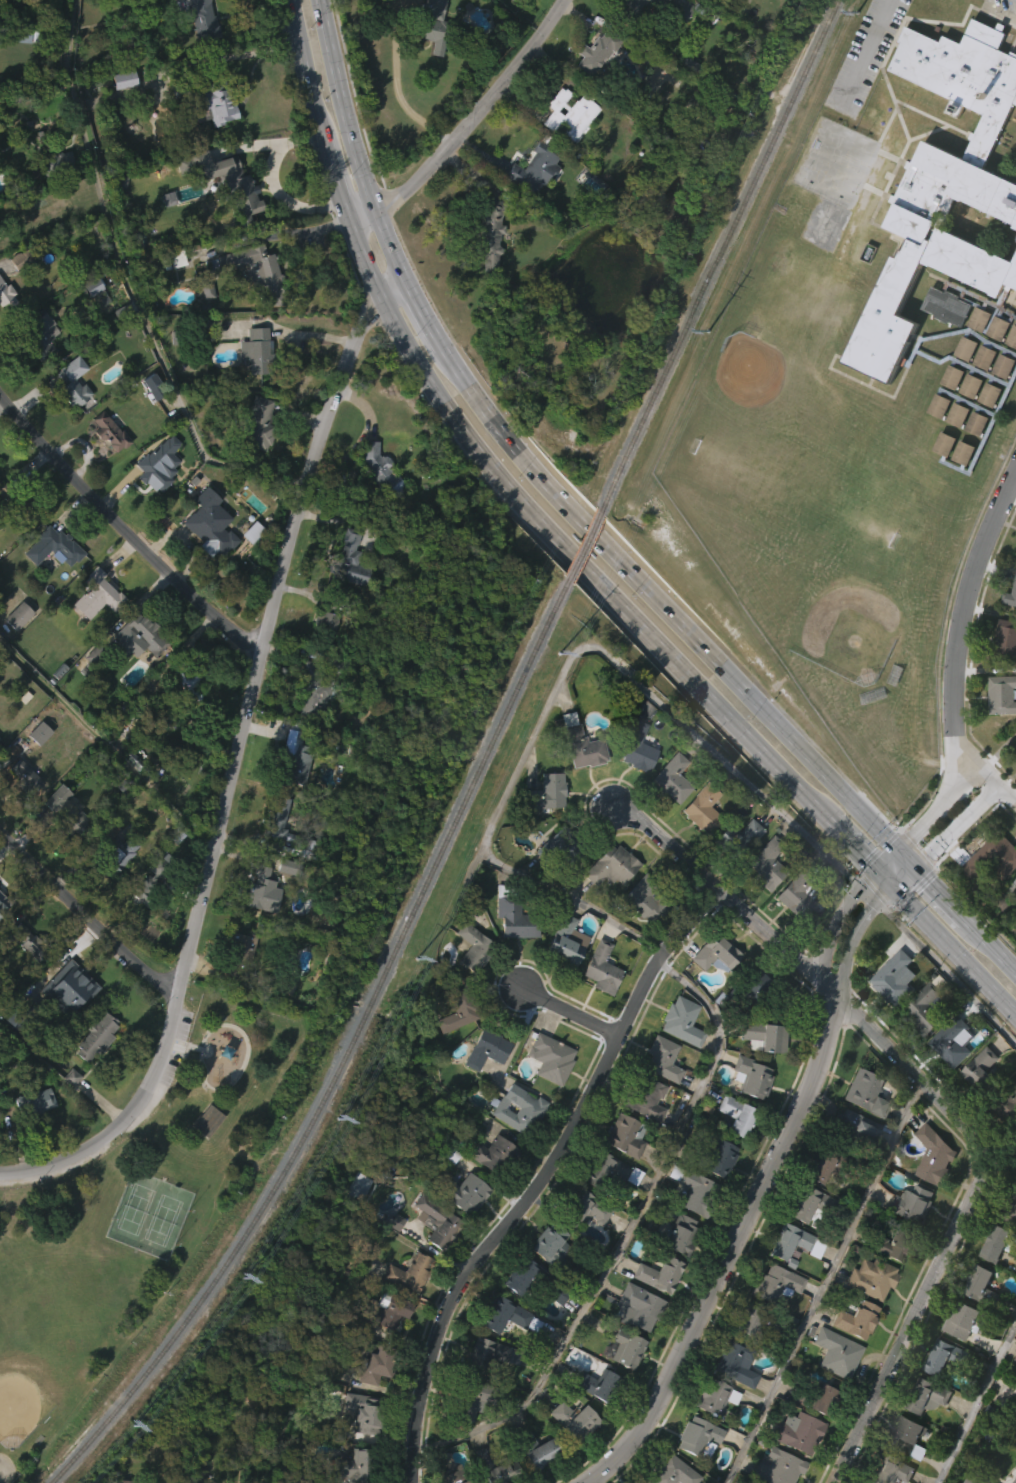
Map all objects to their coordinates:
building: (142, 0)
building: (523, 1)
building: (490, 5)
building: (658, 8)
power tower: (861, 11)
building: (204, 19)
building: (152, 20)
building: (433, 27)
building: (650, 32)
building: (197, 40)
road: (249, 51)
building: (595, 51)
building: (428, 52)
road: (866, 53)
road: (308, 65)
building: (22, 68)
road: (396, 82)
building: (591, 86)
building: (211, 103)
building: (120, 111)
building: (567, 114)
road: (463, 126)
building: (213, 134)
road: (356, 136)
building: (566, 146)
building: (60, 163)
road: (329, 166)
building: (532, 169)
road: (272, 180)
building: (236, 182)
building: (54, 194)
building: (179, 195)
building: (531, 201)
building: (226, 216)
building: (1, 227)
building: (949, 233)
building: (486, 235)
building: (1015, 237)
railway: (719, 255)
building: (173, 258)
building: (255, 270)
building: (485, 270)
road: (125, 285)
building: (17, 290)
building: (172, 290)
building: (7, 292)
building: (251, 302)
road: (422, 307)
building: (89, 318)
building: (204, 319)
building: (4, 327)
building: (41, 334)
power tower: (712, 334)
building: (942, 339)
building: (255, 350)
building: (36, 366)
building: (252, 382)
building: (152, 383)
building: (73, 386)
building: (69, 413)
building: (148, 419)
building: (256, 424)
building: (108, 433)
building: (935, 438)
building: (256, 453)
building: (105, 463)
building: (380, 470)
building: (150, 471)
building: (940, 476)
building: (959, 485)
building: (155, 496)
building: (17, 498)
building: (376, 505)
building: (210, 524)
road: (123, 530)
road: (547, 530)
railway: (583, 544)
building: (53, 546)
building: (206, 556)
building: (350, 560)
building: (248, 564)
building: (49, 579)
building: (346, 591)
building: (96, 593)
building: (1010, 596)
road: (669, 612)
building: (22, 613)
building: (326, 614)
road: (270, 622)
building: (93, 626)
road: (961, 634)
building: (138, 636)
building: (1004, 640)
building: (14, 647)
building: (321, 653)
building: (94, 654)
power tower: (560, 657)
building: (133, 669)
road: (561, 670)
building: (1003, 671)
building: (186, 683)
building: (311, 690)
building: (1002, 695)
building: (183, 716)
building: (308, 719)
building: (999, 726)
building: (578, 743)
building: (638, 747)
building: (1013, 748)
building: (291, 757)
building: (35, 765)
building: (576, 776)
building: (29, 777)
building: (670, 779)
building: (1013, 779)
building: (633, 780)
building: (290, 786)
road: (1008, 790)
building: (543, 793)
building: (21, 807)
building: (704, 808)
building: (67, 809)
building: (668, 811)
building: (273, 816)
building: (114, 821)
building: (544, 823)
road: (957, 823)
building: (53, 829)
traffic signals: (915, 834)
building: (735, 838)
building: (697, 841)
building: (563, 845)
road: (856, 847)
building: (310, 850)
building: (112, 854)
building: (71, 855)
building: (272, 855)
building: (993, 855)
traffic signals: (865, 857)
building: (766, 863)
building: (609, 866)
building: (288, 867)
building: (735, 869)
road: (874, 869)
road: (903, 874)
building: (152, 877)
traffic signals: (929, 881)
building: (114, 885)
building: (259, 891)
building: (989, 891)
building: (796, 892)
building: (763, 894)
road: (941, 894)
building: (606, 898)
building: (648, 900)
building: (0, 902)
traffic signals: (871, 908)
building: (511, 916)
building: (1015, 916)
road: (84, 917)
building: (143, 919)
building: (258, 922)
building: (795, 926)
building: (640, 932)
building: (2, 935)
road: (850, 938)
building: (564, 940)
building: (32, 942)
road: (993, 946)
building: (471, 948)
road: (954, 949)
building: (510, 950)
building: (717, 952)
building: (237, 954)
power tower: (421, 960)
building: (599, 970)
road: (946, 970)
building: (562, 972)
building: (25, 974)
building: (894, 975)
building: (237, 978)
building: (469, 978)
building: (754, 986)
building: (69, 988)
building: (597, 1000)
building: (924, 1007)
building: (889, 1010)
building: (456, 1011)
road: (572, 1012)
building: (751, 1015)
building: (64, 1019)
building: (679, 1021)
building: (96, 1037)
building: (761, 1037)
building: (952, 1040)
building: (920, 1041)
building: (453, 1043)
building: (488, 1048)
building: (677, 1052)
railway: (345, 1053)
building: (551, 1057)
building: (660, 1058)
building: (92, 1069)
building: (980, 1069)
building: (949, 1073)
building: (749, 1076)
building: (483, 1081)
building: (547, 1089)
building: (658, 1090)
building: (865, 1091)
road: (937, 1096)
building: (642, 1097)
building: (977, 1101)
building: (34, 1102)
building: (1006, 1104)
building: (516, 1107)
building: (748, 1108)
building: (735, 1114)
road: (127, 1119)
building: (206, 1120)
power tower: (341, 1121)
building: (855, 1126)
building: (642, 1130)
building: (32, 1132)
building: (623, 1134)
building: (514, 1141)
building: (732, 1146)
building: (1015, 1151)
building: (203, 1152)
building: (490, 1153)
building: (933, 1155)
building: (848, 1156)
building: (713, 1157)
building: (825, 1167)
building: (622, 1168)
building: (602, 1169)
road: (546, 1180)
building: (490, 1186)
building: (930, 1187)
building: (716, 1189)
building: (695, 1191)
building: (461, 1192)
building: (608, 1202)
building: (811, 1203)
building: (911, 1203)
building: (1009, 1206)
building: (581, 1208)
park: (137, 1211)
building: (433, 1221)
building: (689, 1222)
building: (461, 1225)
road: (624, 1231)
building: (677, 1233)
building: (802, 1234)
building: (907, 1235)
building: (583, 1240)
building: (792, 1242)
building: (891, 1242)
building: (999, 1244)
building: (549, 1246)
building: (431, 1253)
road: (730, 1255)
building: (676, 1264)
building: (657, 1273)
building: (406, 1274)
building: (789, 1274)
building: (870, 1277)
building: (531, 1279)
power tower: (245, 1280)
road: (823, 1280)
building: (778, 1283)
building: (987, 1288)
building: (405, 1304)
building: (636, 1305)
building: (517, 1306)
building: (655, 1306)
building: (383, 1312)
building: (773, 1313)
building: (502, 1315)
building: (855, 1319)
building: (971, 1321)
building: (755, 1322)
building: (384, 1342)
building: (503, 1347)
building: (623, 1347)
building: (835, 1352)
building: (482, 1353)
building: (944, 1357)
building: (1015, 1359)
building: (734, 1361)
building: (374, 1363)
building: (619, 1379)
building: (491, 1383)
building: (832, 1384)
building: (597, 1385)
building: (1014, 1390)
building: (731, 1395)
building: (715, 1396)
building: (926, 1396)
building: (467, 1397)
building: (818, 1399)
road: (976, 1401)
building: (364, 1412)
building: (591, 1415)
building: (570, 1419)
building: (922, 1426)
building: (1013, 1427)
power tower: (132, 1429)
building: (818, 1430)
building: (466, 1432)
building: (795, 1432)
building: (910, 1436)
building: (696, 1437)
building: (358, 1442)
building: (537, 1451)
building: (569, 1451)
building: (1013, 1461)
building: (352, 1465)
building: (492, 1466)
building: (694, 1466)
building: (776, 1467)
building: (674, 1471)
building: (890, 1471)
building: (452, 1475)
building: (532, 1476)
building: (976, 1478)
building: (476, 1480)
building: (123, 1481)
building: (1014, 1481)
building: (637, 1482)

